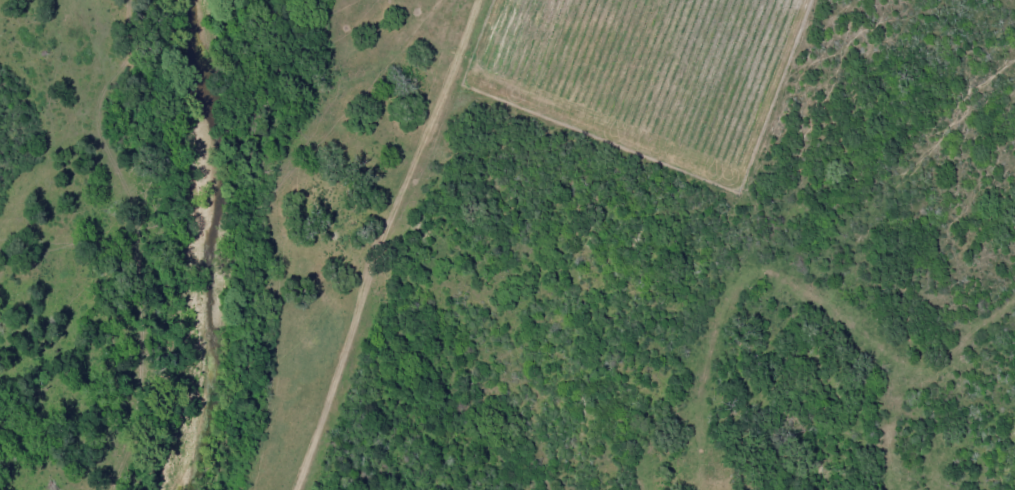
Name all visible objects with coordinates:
road: (393, 246)

